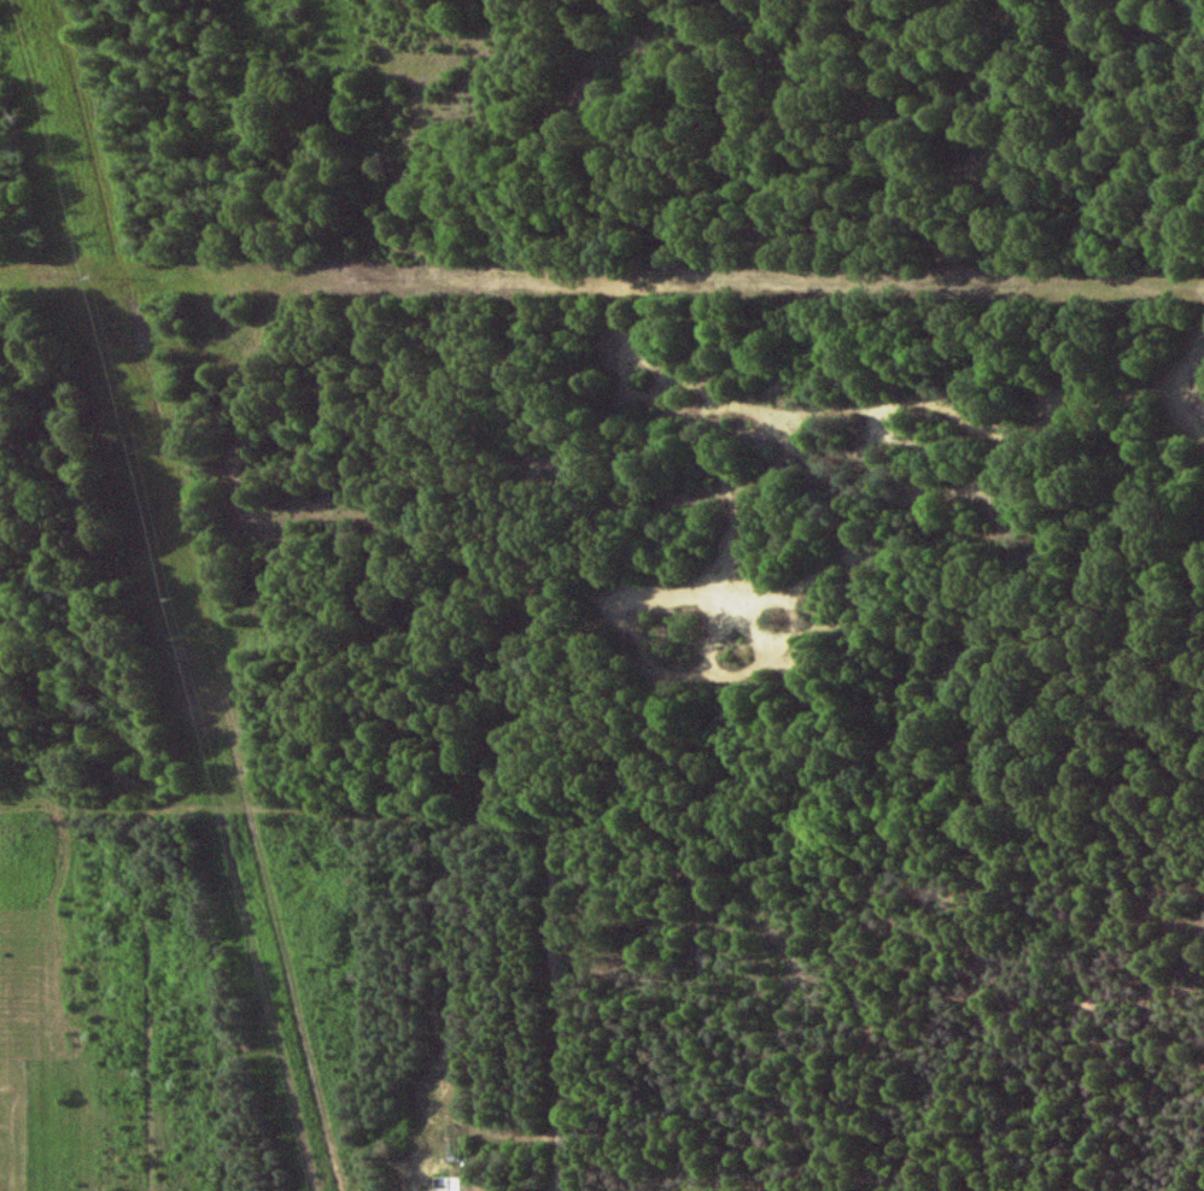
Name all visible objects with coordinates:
building: (450, 1184)

